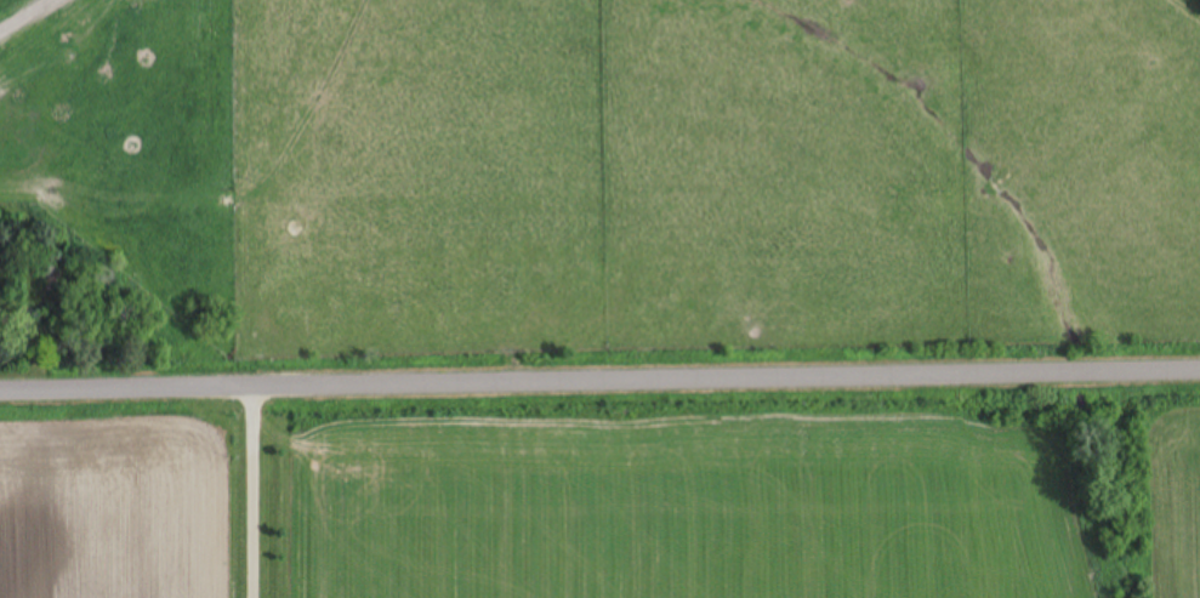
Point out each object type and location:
road: (599, 372)
road: (254, 488)

